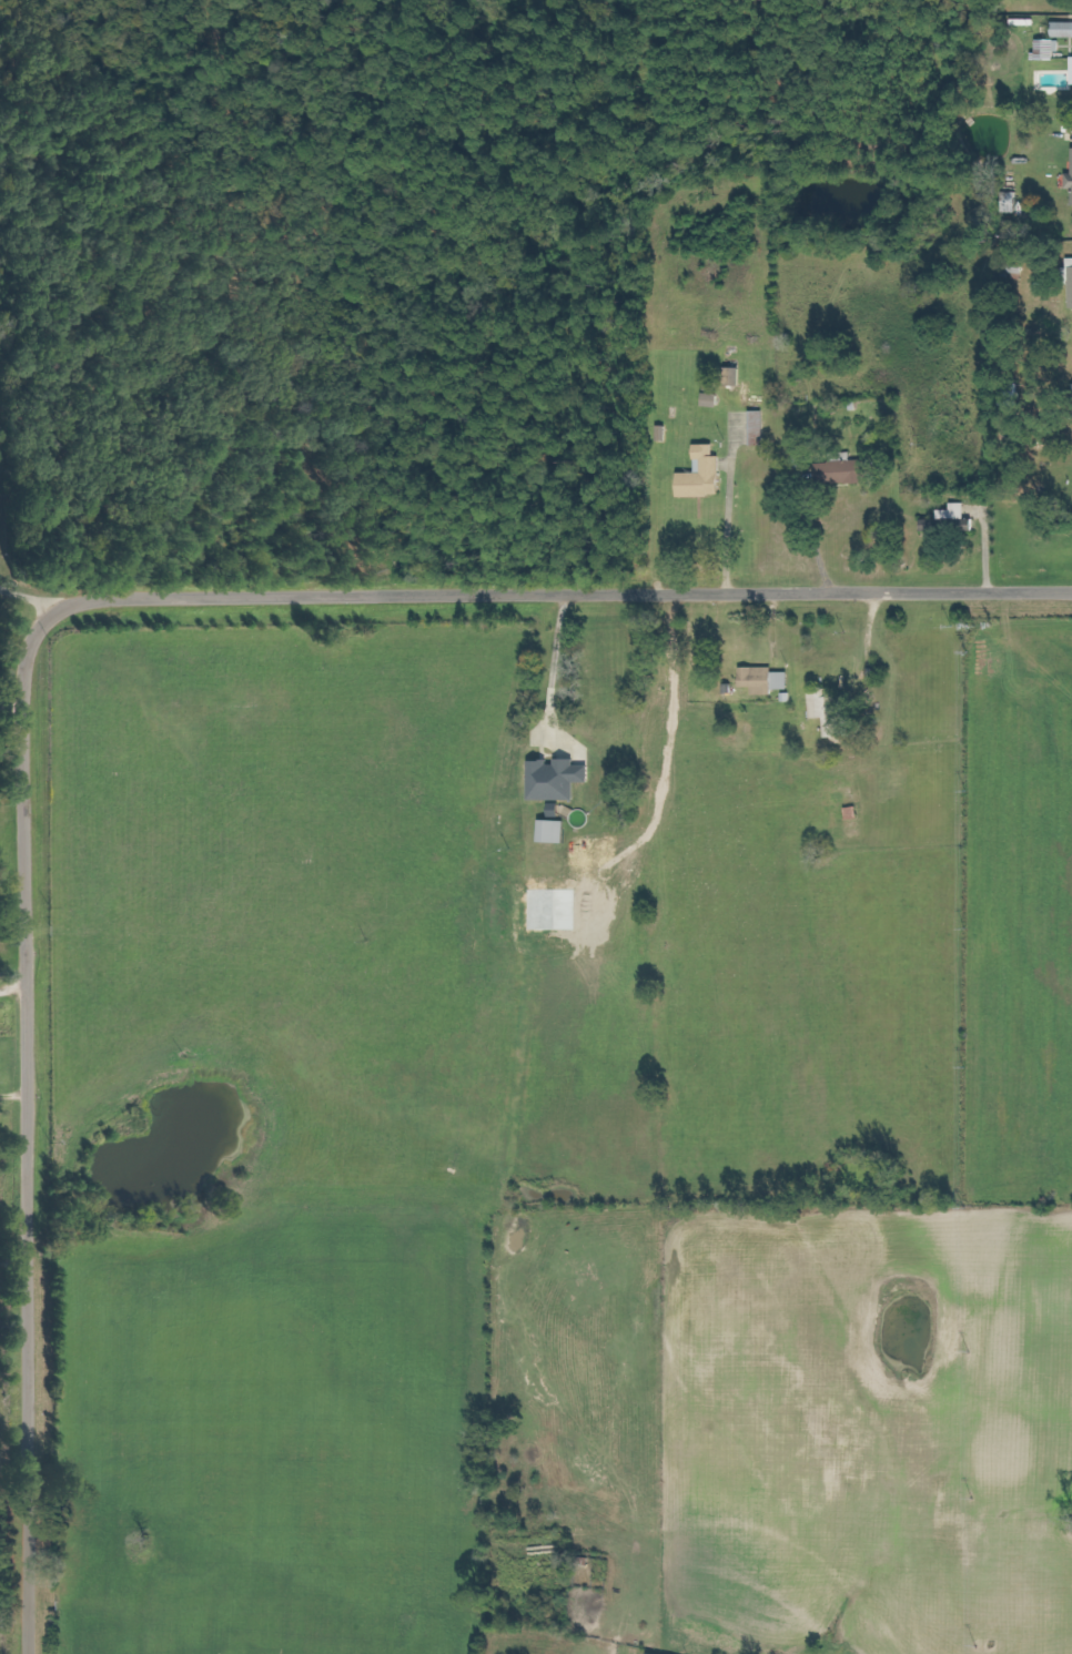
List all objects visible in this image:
building: (1064, 30)
building: (1050, 50)
building: (1071, 182)
building: (1013, 203)
building: (849, 473)
building: (706, 475)
road: (43, 622)
building: (767, 680)
building: (831, 712)
building: (560, 780)
building: (556, 832)
road: (12, 993)

